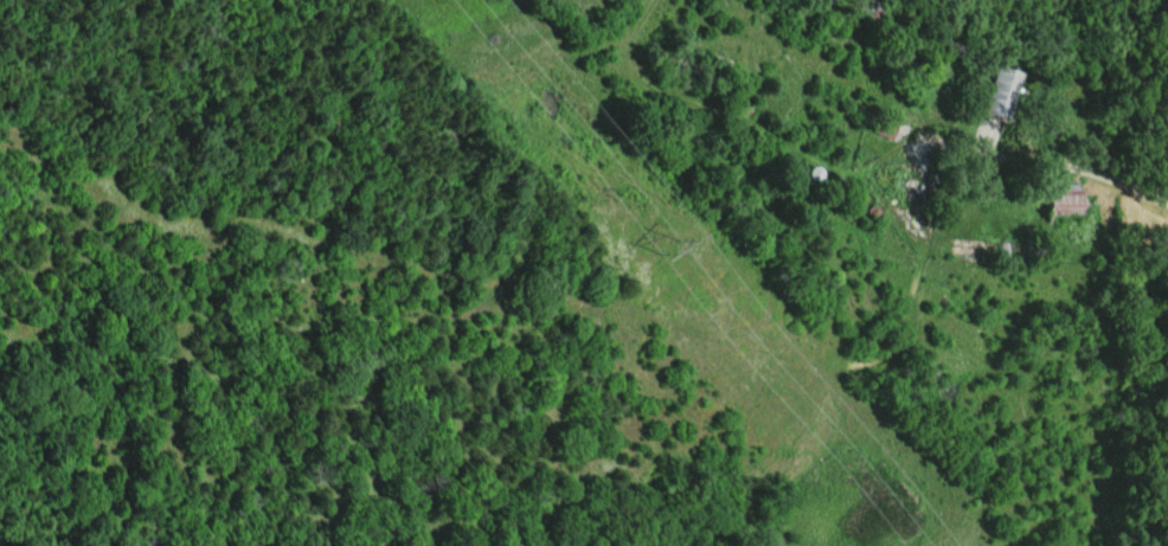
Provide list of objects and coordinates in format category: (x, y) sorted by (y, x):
road: (1048, 161)
power tower: (669, 244)

